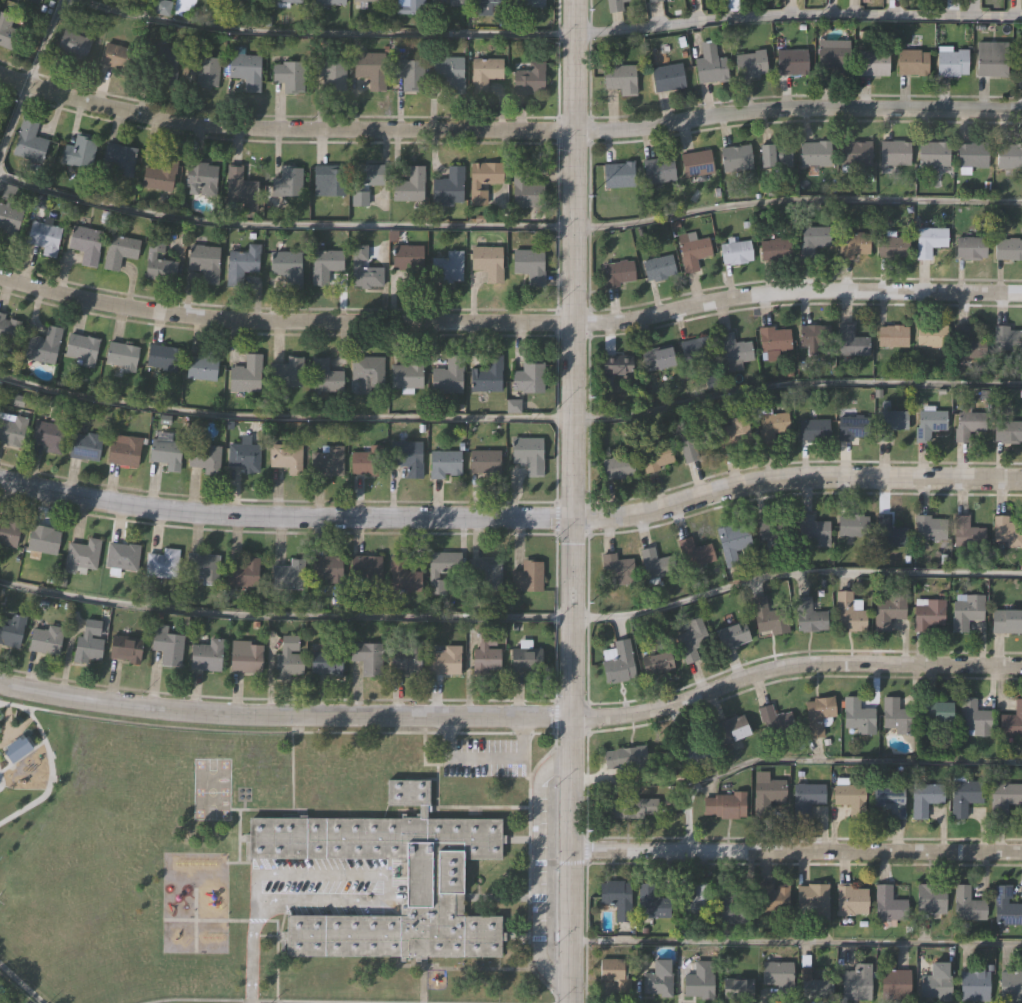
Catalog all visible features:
building: (253, 0)
building: (368, 1)
building: (652, 1)
building: (33, 2)
building: (284, 2)
building: (327, 2)
building: (447, 3)
building: (526, 4)
building: (613, 5)
building: (411, 6)
building: (484, 7)
building: (161, 8)
building: (8, 33)
road: (548, 34)
building: (74, 46)
building: (1019, 56)
building: (116, 57)
building: (992, 57)
building: (833, 58)
building: (912, 60)
building: (951, 60)
building: (791, 63)
building: (872, 65)
building: (369, 66)
building: (709, 66)
building: (749, 66)
building: (165, 67)
building: (246, 72)
building: (205, 73)
building: (447, 73)
building: (483, 74)
road: (30, 75)
building: (329, 75)
building: (408, 75)
building: (287, 77)
building: (618, 79)
building: (666, 79)
building: (528, 81)
road: (508, 128)
building: (30, 143)
building: (897, 151)
building: (816, 152)
building: (856, 153)
building: (80, 154)
building: (934, 154)
building: (973, 154)
building: (1010, 154)
building: (776, 155)
building: (734, 158)
building: (696, 162)
building: (123, 163)
building: (659, 169)
building: (619, 173)
building: (161, 176)
building: (202, 179)
building: (481, 181)
building: (328, 182)
building: (287, 183)
building: (362, 183)
building: (243, 187)
building: (408, 187)
building: (447, 188)
building: (525, 191)
building: (9, 221)
road: (509, 227)
building: (45, 239)
building: (812, 239)
building: (930, 239)
building: (852, 243)
building: (87, 245)
building: (893, 245)
building: (972, 246)
building: (1009, 247)
building: (776, 248)
building: (693, 250)
building: (735, 250)
building: (120, 252)
building: (406, 255)
building: (163, 260)
building: (486, 263)
building: (206, 264)
building: (241, 266)
building: (659, 266)
building: (323, 267)
building: (528, 267)
building: (285, 268)
building: (450, 268)
building: (362, 270)
building: (618, 271)
road: (510, 323)
building: (9, 329)
building: (816, 334)
building: (933, 334)
building: (895, 335)
building: (775, 337)
building: (1008, 337)
building: (854, 340)
building: (970, 341)
building: (45, 347)
building: (698, 347)
building: (83, 350)
building: (735, 350)
building: (122, 356)
building: (660, 356)
building: (165, 359)
building: (201, 365)
building: (618, 365)
building: (367, 373)
building: (285, 374)
building: (244, 375)
building: (405, 376)
building: (446, 376)
building: (486, 376)
building: (323, 377)
building: (527, 379)
building: (1, 387)
road: (511, 419)
building: (889, 422)
building: (929, 422)
building: (772, 423)
building: (967, 423)
building: (852, 426)
building: (813, 427)
building: (12, 430)
building: (1008, 430)
building: (736, 432)
building: (48, 436)
building: (695, 441)
building: (86, 447)
building: (126, 453)
building: (166, 454)
building: (526, 455)
building: (659, 455)
building: (243, 457)
building: (406, 457)
building: (203, 458)
building: (285, 458)
building: (326, 461)
building: (366, 461)
building: (483, 463)
building: (443, 465)
building: (620, 466)
road: (571, 501)
road: (511, 517)
building: (853, 523)
building: (773, 525)
building: (929, 525)
building: (815, 529)
building: (890, 531)
building: (967, 531)
building: (1004, 531)
building: (9, 533)
building: (44, 540)
building: (736, 542)
building: (695, 551)
building: (82, 556)
building: (122, 557)
building: (654, 562)
building: (161, 564)
building: (365, 567)
building: (202, 568)
building: (618, 568)
building: (324, 569)
building: (441, 570)
building: (243, 572)
building: (287, 576)
building: (401, 577)
building: (526, 577)
building: (489, 578)
building: (890, 608)
building: (967, 609)
building: (850, 610)
building: (928, 611)
building: (812, 615)
building: (771, 616)
road: (512, 618)
building: (1007, 620)
building: (12, 631)
building: (734, 633)
building: (693, 638)
building: (46, 640)
building: (88, 643)
building: (166, 646)
building: (484, 649)
building: (123, 651)
building: (205, 656)
building: (244, 658)
building: (366, 658)
building: (287, 659)
building: (406, 660)
building: (524, 661)
building: (619, 661)
building: (658, 661)
building: (442, 662)
building: (322, 666)
building: (940, 708)
building: (819, 714)
building: (857, 715)
building: (896, 715)
road: (513, 716)
building: (974, 717)
building: (775, 720)
building: (1012, 721)
building: (731, 727)
building: (696, 749)
building: (628, 757)
parking lot: (486, 758)
road: (487, 758)
road: (821, 762)
park: (212, 790)
building: (966, 793)
building: (765, 795)
building: (1004, 796)
building: (809, 797)
building: (853, 797)
building: (927, 798)
building: (892, 800)
building: (727, 803)
building: (631, 805)
road: (795, 851)
park: (129, 854)
road: (535, 867)
road: (380, 873)
building: (434, 880)
parking lot: (326, 885)
building: (618, 896)
building: (772, 896)
building: (932, 897)
building: (850, 898)
building: (654, 900)
building: (813, 901)
building: (694, 903)
building: (889, 904)
building: (967, 904)
building: (730, 905)
building: (1005, 906)
road: (795, 942)
road: (254, 962)
building: (616, 971)
building: (779, 973)
building: (659, 978)
building: (699, 979)
building: (937, 980)
building: (856, 982)
building: (896, 982)
building: (974, 983)
road: (20, 984)
building: (814, 985)
building: (1010, 986)
building: (741, 987)

